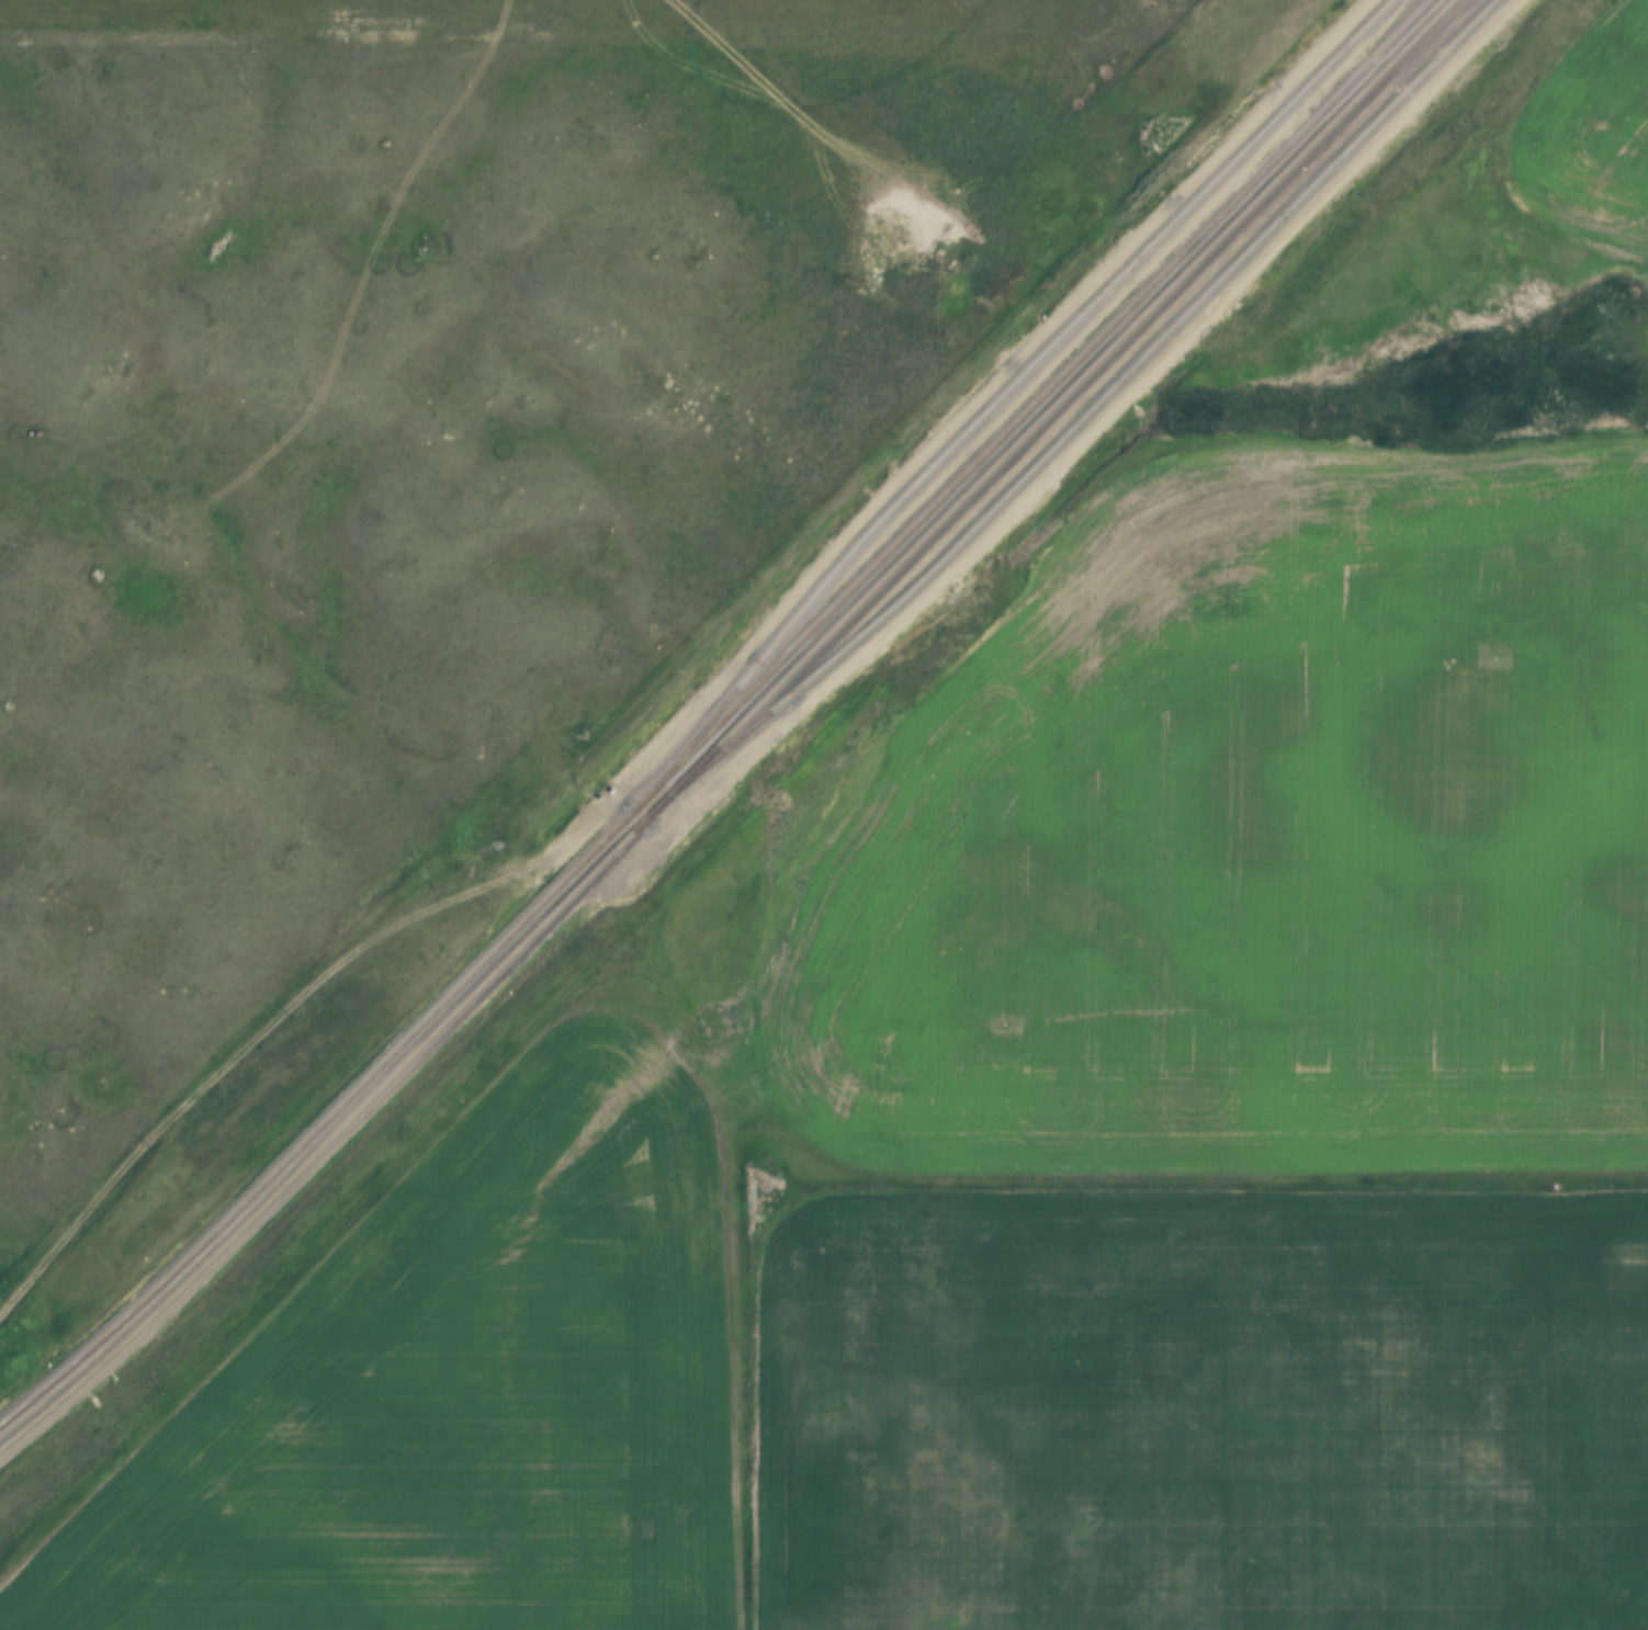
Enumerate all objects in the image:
railway: (1397, 36)
railway: (1397, 61)
railway: (1118, 393)
railway: (1002, 396)
railway: (1045, 409)
railway: (1075, 420)
railway: (721, 718)
railway: (328, 1142)

